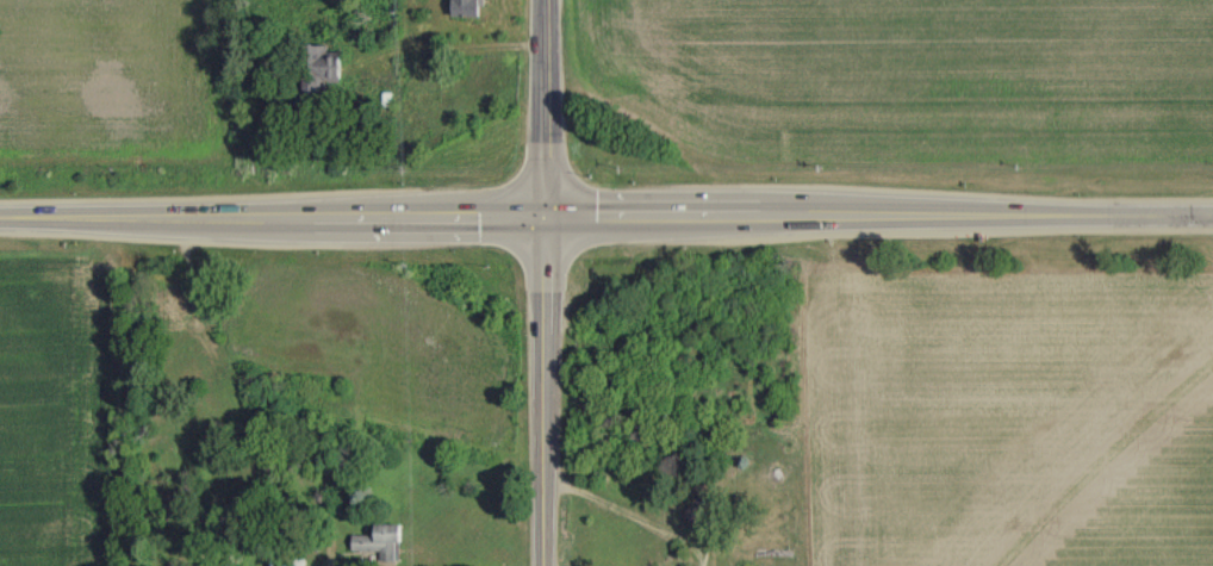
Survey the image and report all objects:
building: (462, 7)
road: (453, 48)
building: (313, 68)
crop: (891, 86)
road: (540, 107)
road: (270, 216)
traffic signals: (541, 216)
road: (877, 216)
building: (169, 303)
road: (542, 391)
building: (379, 541)
building: (286, 561)

